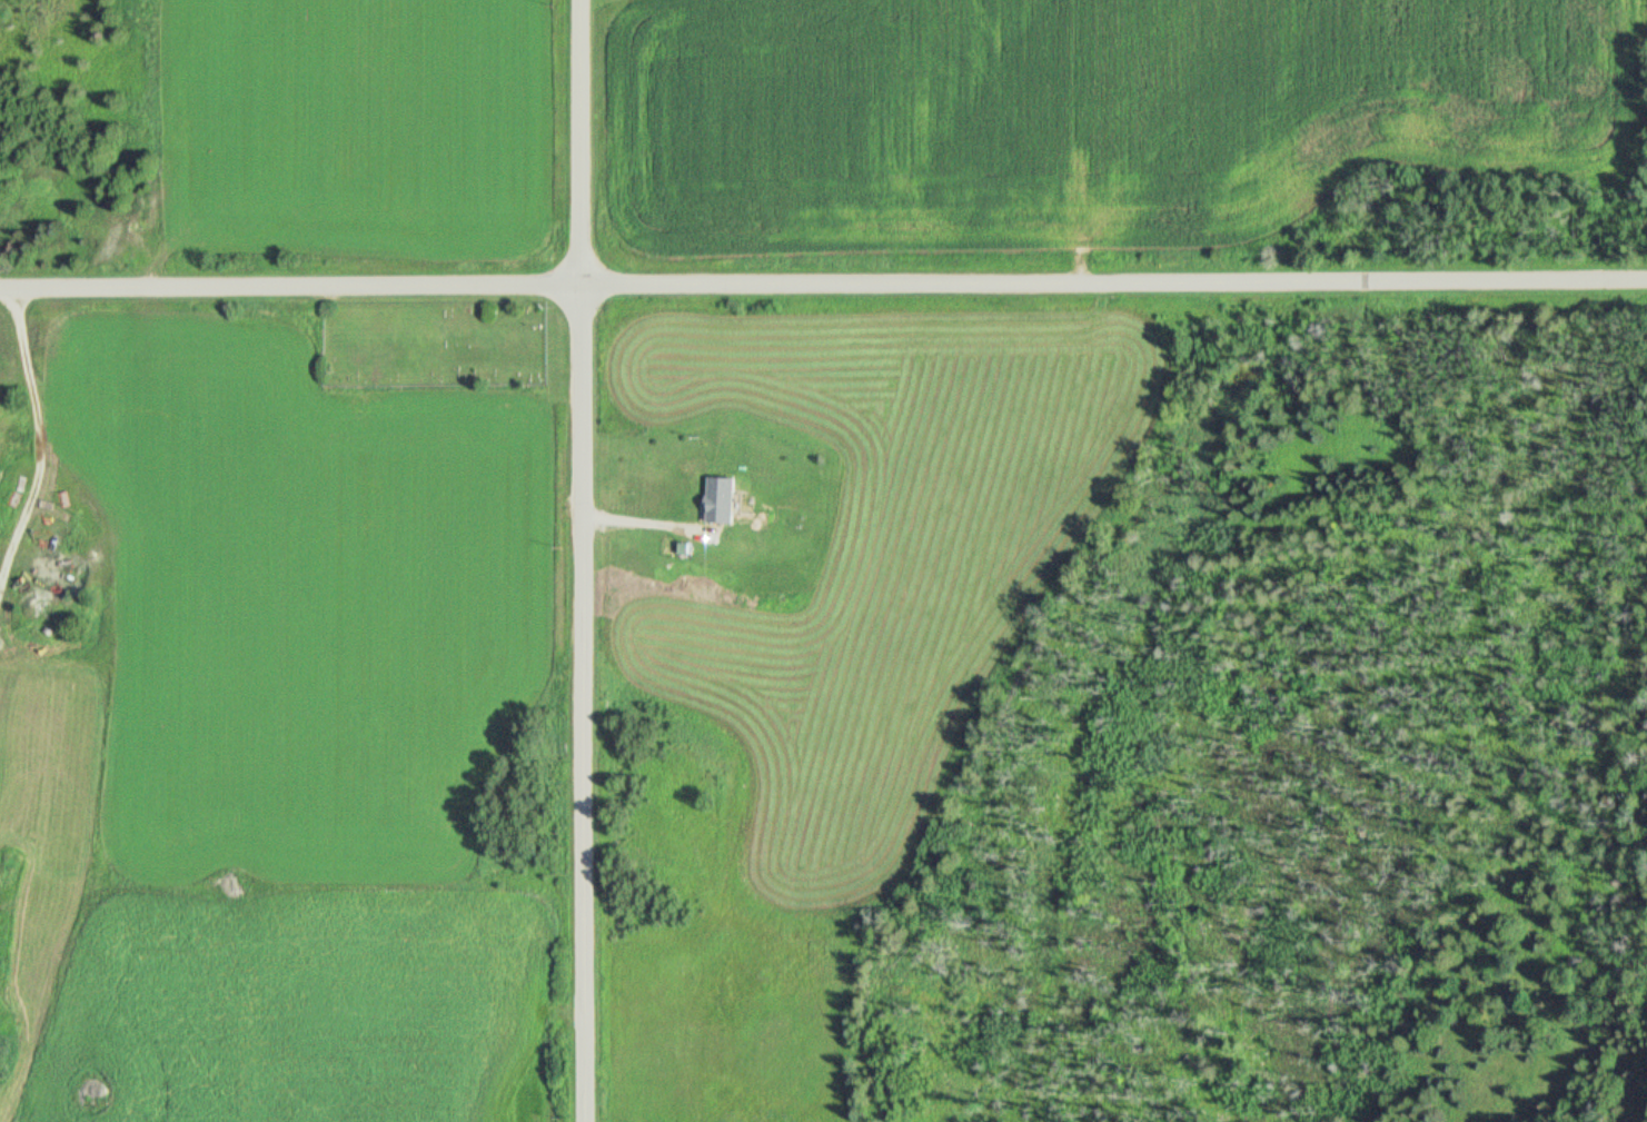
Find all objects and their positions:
road: (823, 285)
park: (456, 339)
building: (726, 496)
road: (657, 524)
road: (591, 560)

